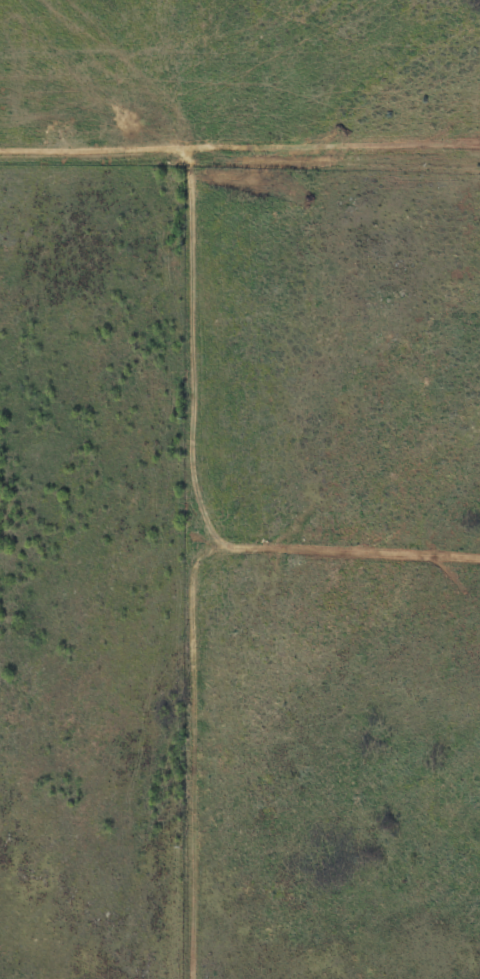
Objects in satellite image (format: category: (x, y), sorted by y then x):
road: (240, 161)

